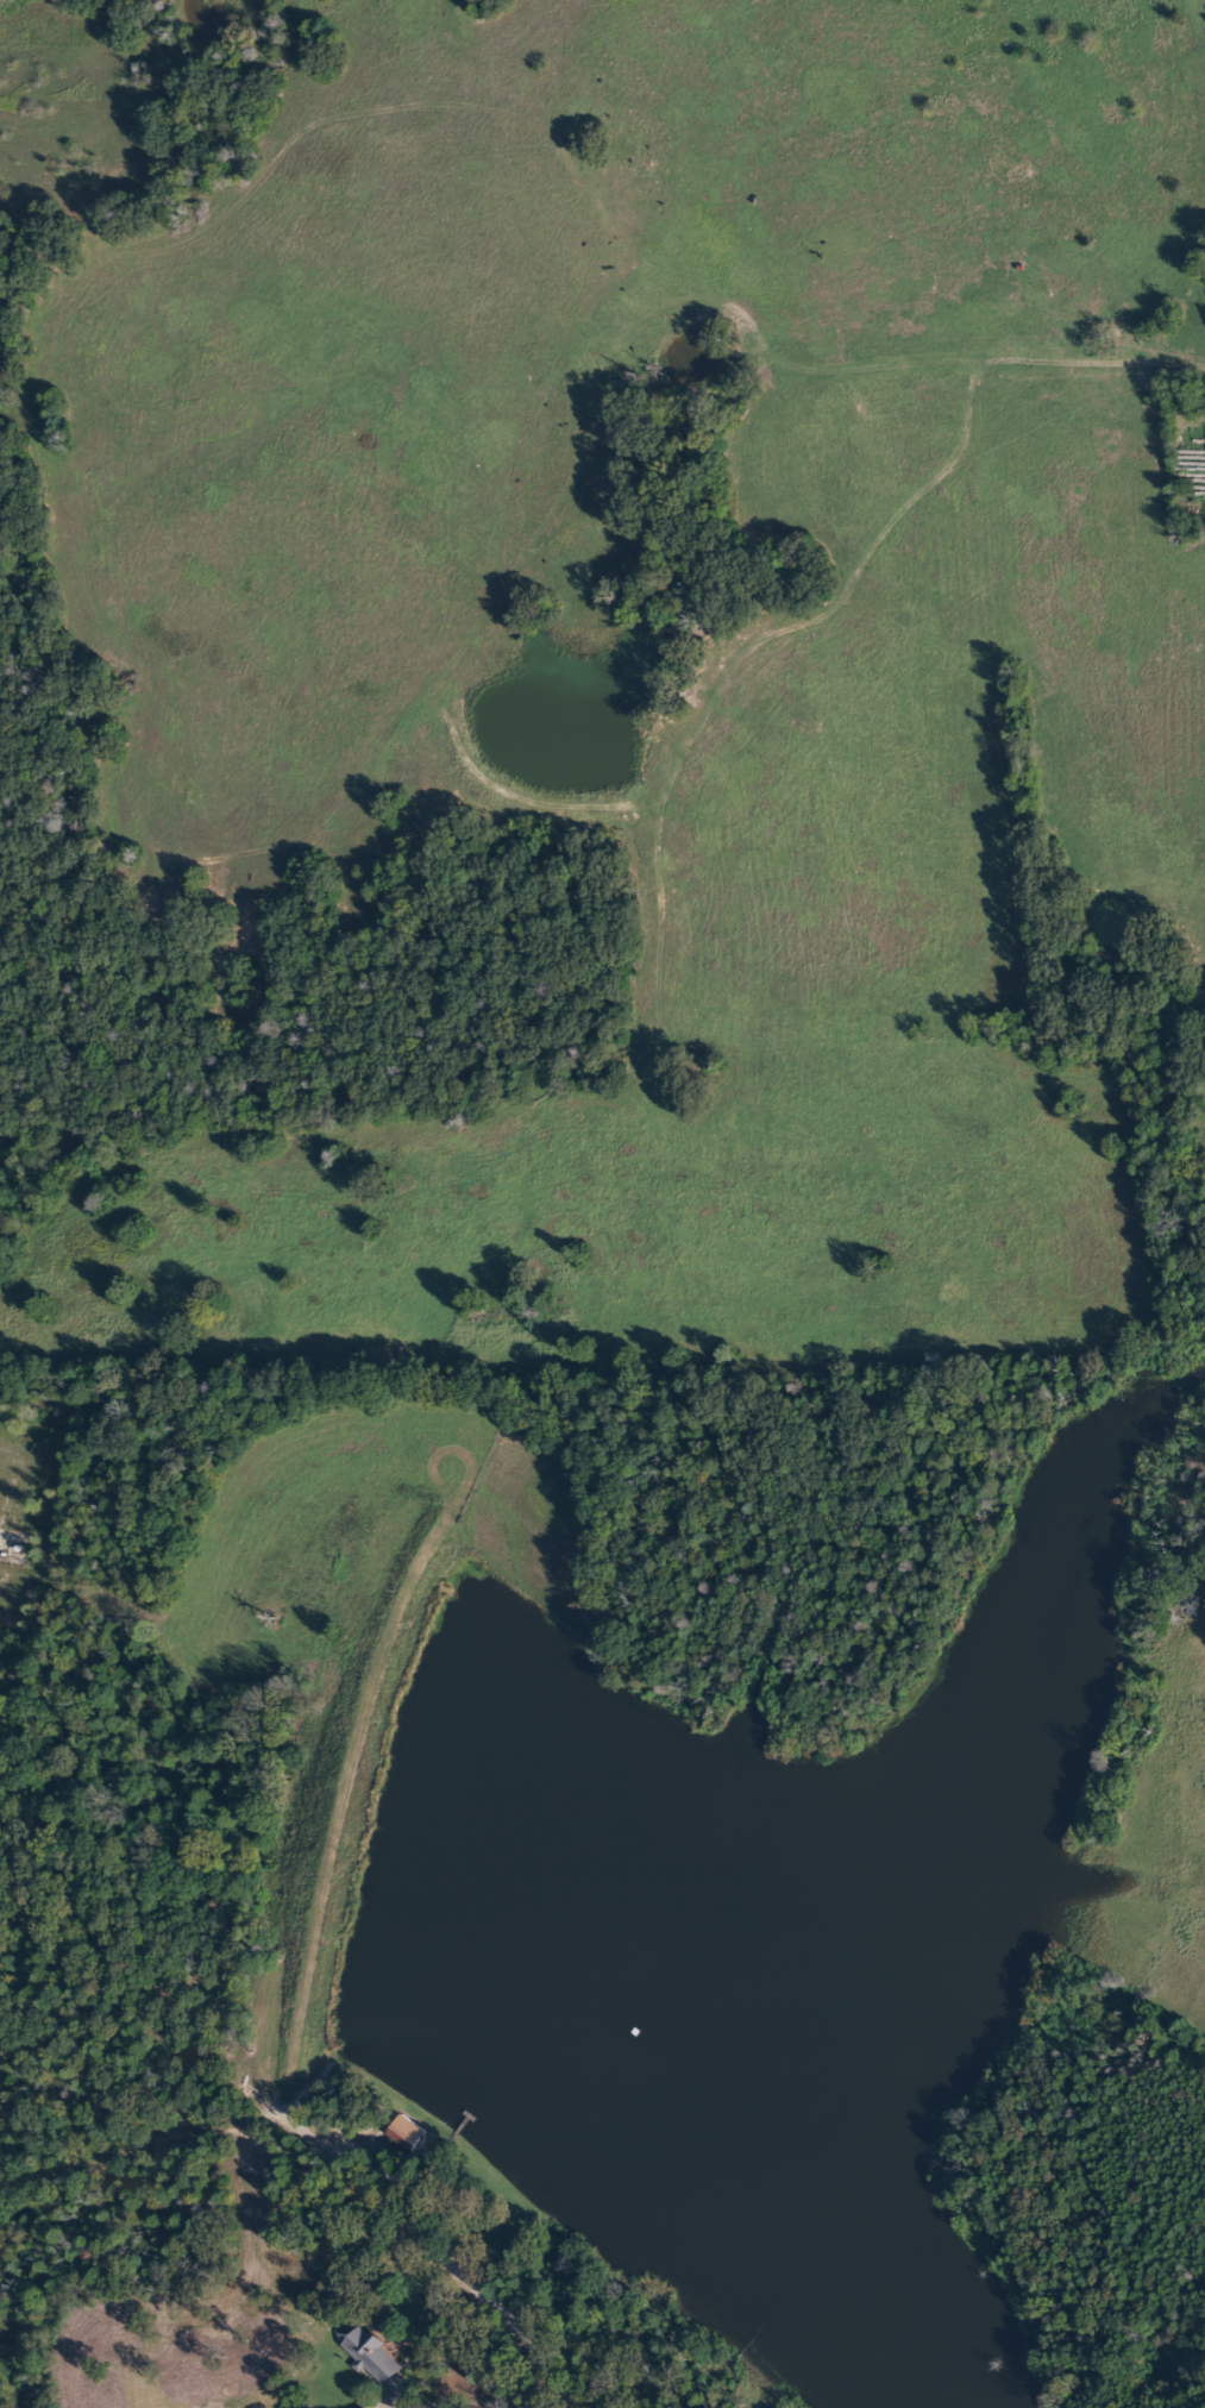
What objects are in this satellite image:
building: (408, 2134)
building: (374, 2357)

